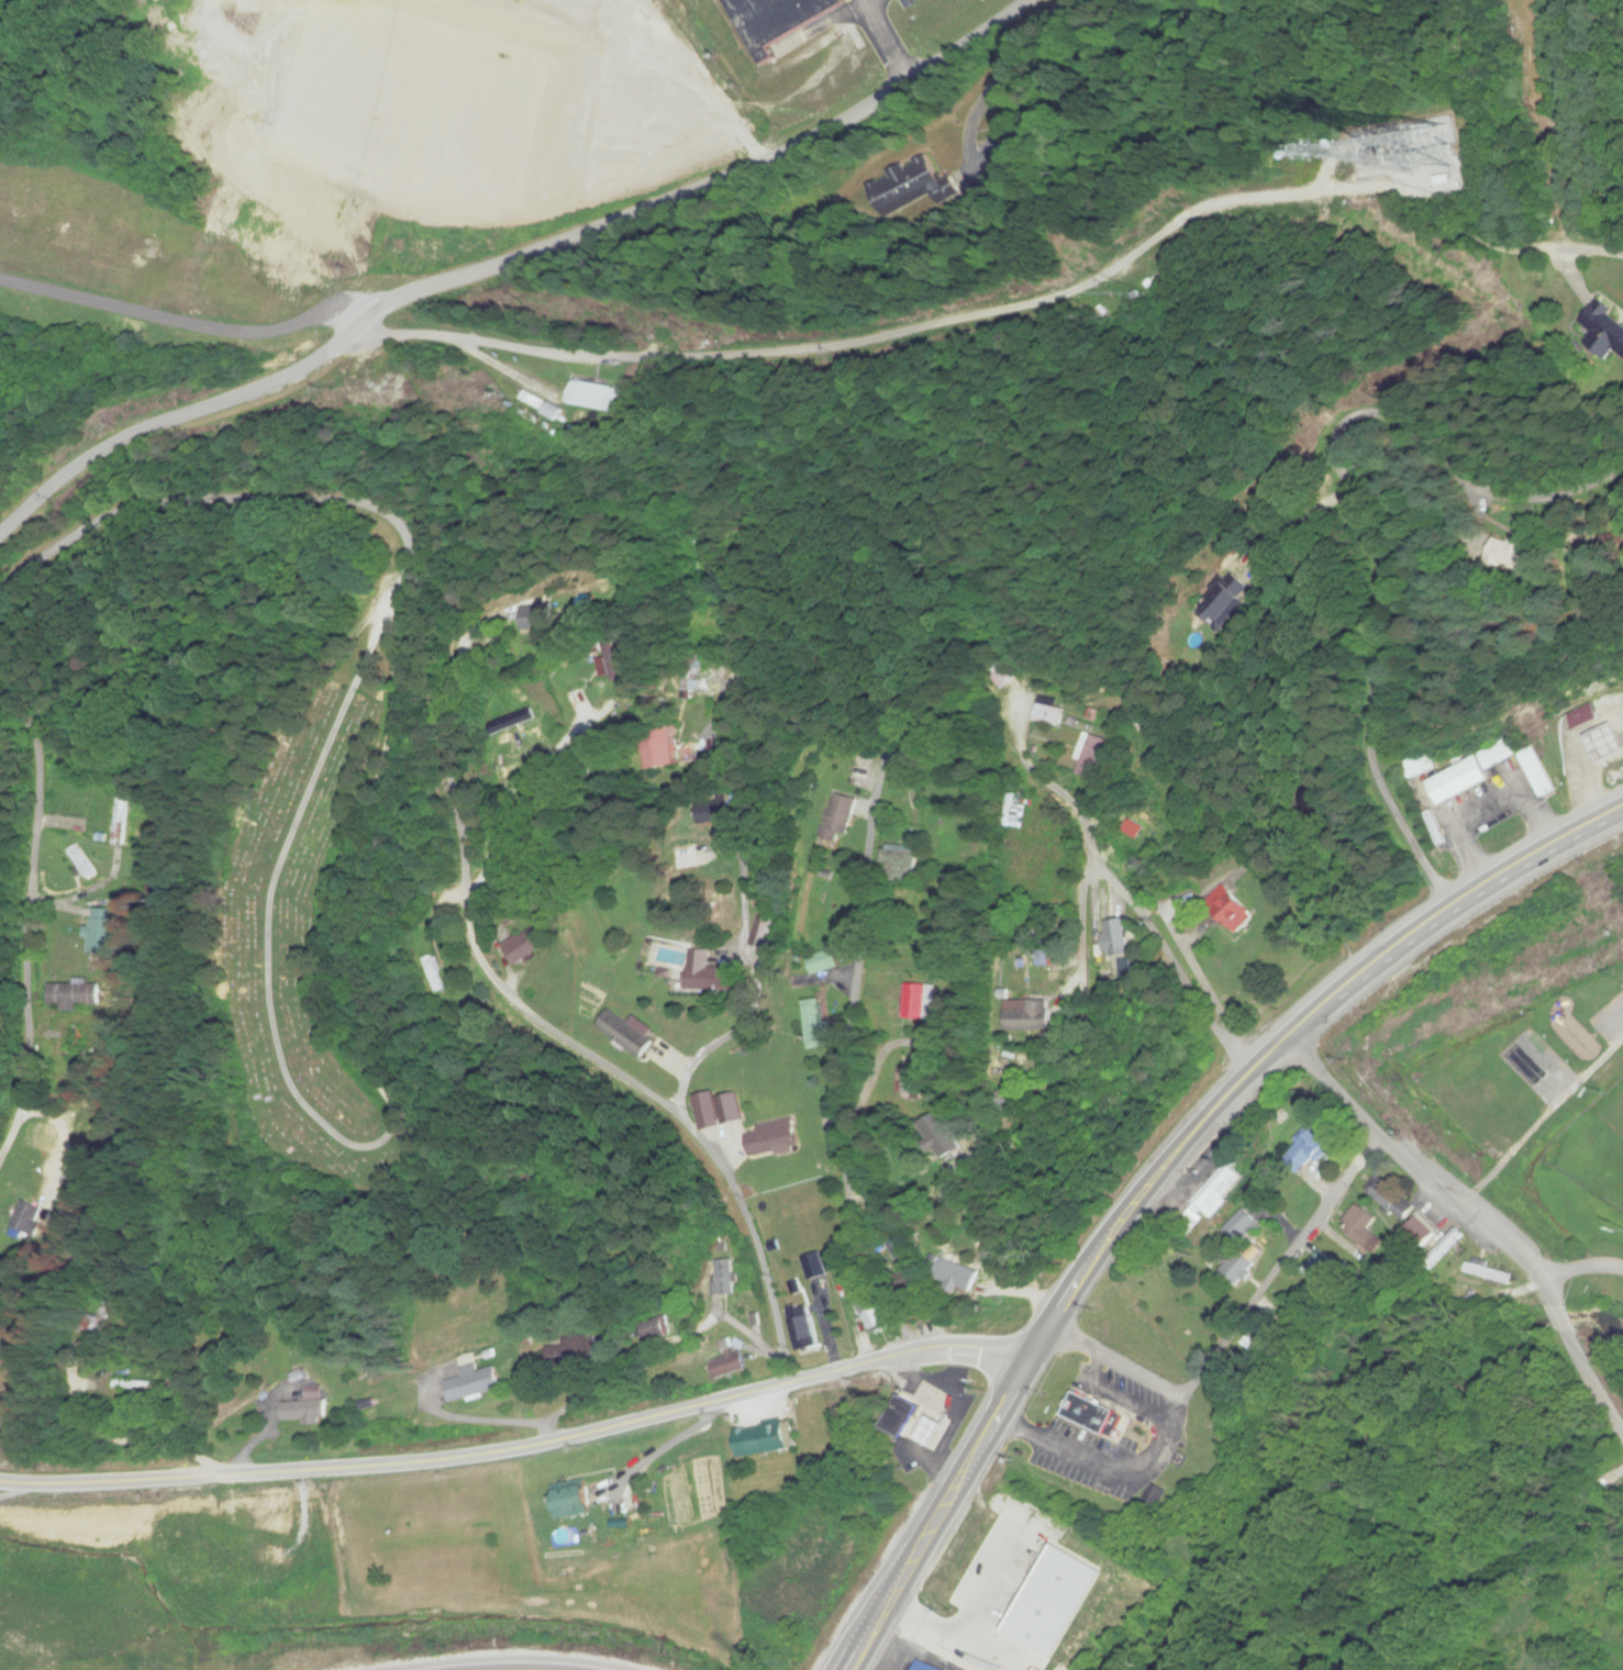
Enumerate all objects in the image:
road: (869, 0)
building: (782, 21)
road: (889, 41)
building: (1376, 157)
building: (909, 187)
road: (1583, 253)
road: (510, 264)
road: (971, 319)
road: (181, 322)
building: (1607, 330)
building: (596, 398)
road: (1368, 521)
building: (1516, 557)
building: (1221, 604)
building: (537, 619)
road: (405, 620)
building: (708, 632)
building: (607, 661)
building: (999, 671)
building: (1047, 714)
building: (1599, 746)
building: (663, 749)
building: (1090, 757)
building: (1420, 765)
building: (1464, 776)
road: (453, 801)
building: (718, 814)
building: (835, 820)
road: (553, 849)
building: (900, 866)
road: (1114, 886)
building: (1230, 909)
road: (25, 922)
building: (101, 931)
building: (765, 933)
park: (308, 944)
building: (523, 946)
building: (821, 962)
building: (709, 975)
road: (855, 976)
building: (74, 992)
building: (919, 1001)
building: (1029, 1015)
building: (813, 1024)
road: (1300, 1029)
building: (626, 1033)
building: (912, 1084)
building: (730, 1109)
road: (956, 1121)
road: (1542, 1125)
building: (940, 1136)
building: (772, 1139)
park: (1596, 1145)
building: (1307, 1153)
building: (1265, 1177)
building: (1215, 1194)
building: (1390, 1202)
road: (1470, 1215)
building: (27, 1220)
building: (1361, 1227)
building: (1419, 1228)
building: (1443, 1249)
building: (813, 1266)
building: (903, 1268)
road: (1580, 1269)
building: (1320, 1270)
building: (1489, 1273)
building: (955, 1276)
building: (722, 1278)
building: (870, 1315)
building: (96, 1321)
road: (1240, 1324)
building: (801, 1328)
building: (575, 1350)
building: (729, 1360)
building: (134, 1383)
building: (471, 1384)
building: (305, 1409)
building: (1092, 1415)
building: (912, 1421)
building: (763, 1438)
road: (522, 1446)
road: (22, 1490)
road: (954, 1499)
building: (570, 1500)
building: (1016, 1581)
building: (923, 1667)
road: (530, 1668)

